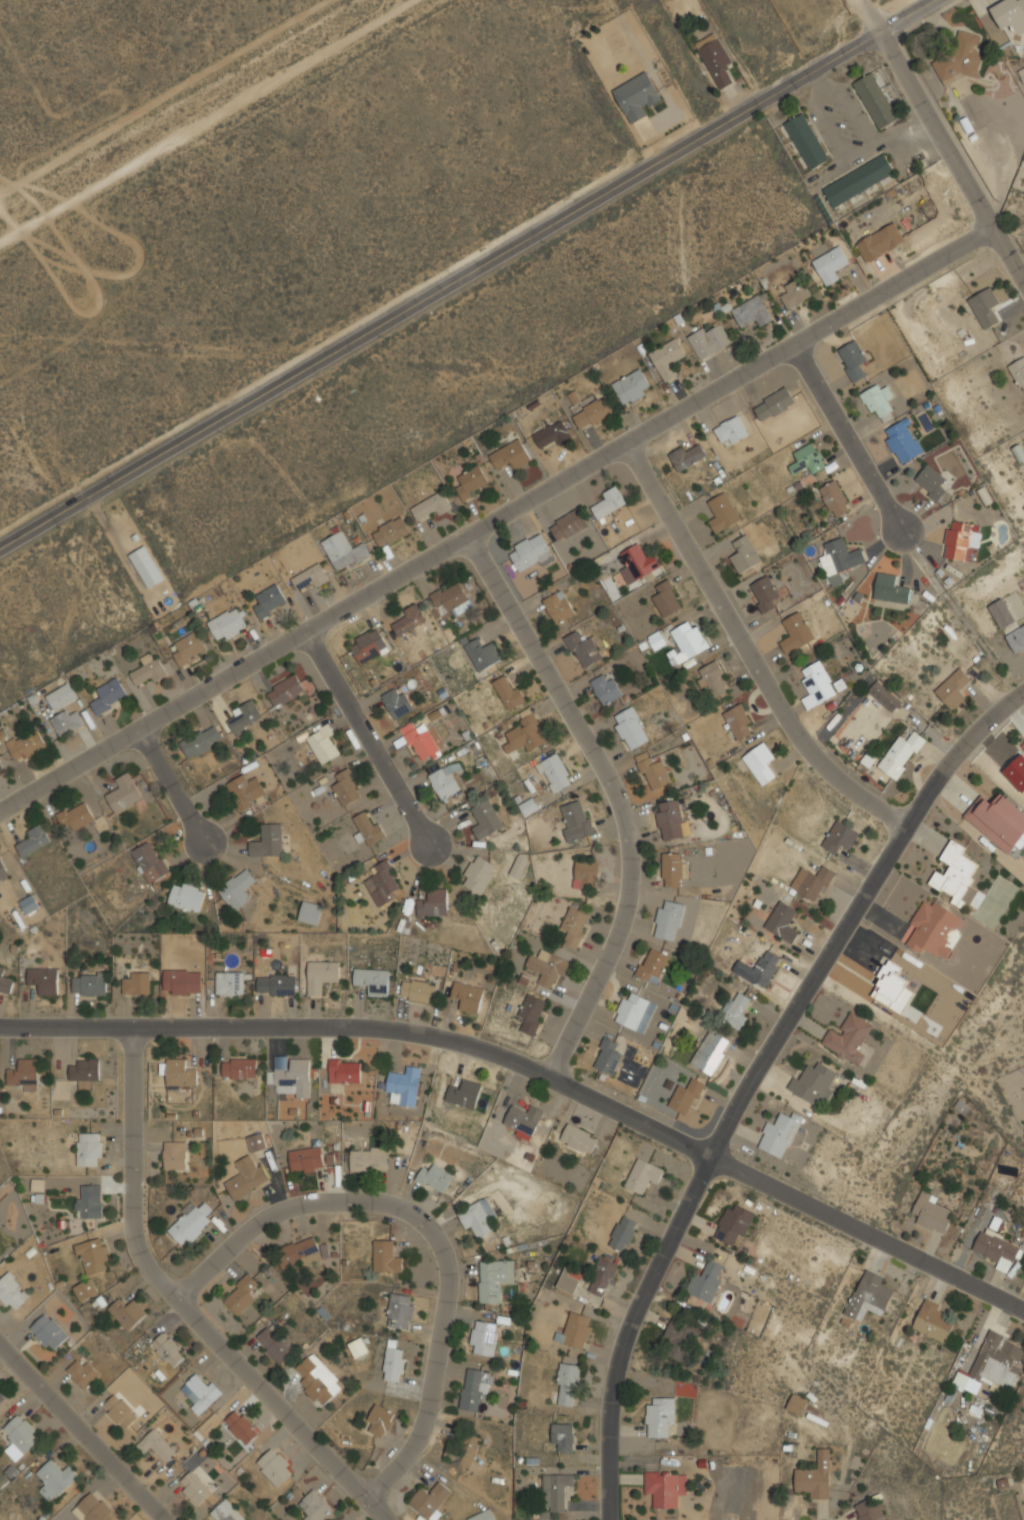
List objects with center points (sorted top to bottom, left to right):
building: (1010, 14)
building: (715, 59)
building: (960, 59)
building: (637, 95)
building: (876, 100)
road: (932, 115)
road: (203, 120)
building: (806, 141)
building: (859, 180)
building: (880, 241)
road: (1012, 252)
building: (830, 264)
road: (467, 274)
building: (795, 292)
building: (984, 307)
building: (753, 311)
building: (710, 339)
building: (668, 357)
building: (852, 360)
building: (1018, 371)
building: (632, 386)
building: (878, 399)
building: (773, 404)
building: (593, 413)
building: (730, 430)
building: (551, 435)
road: (852, 440)
building: (902, 441)
building: (1018, 452)
building: (511, 455)
building: (687, 455)
building: (807, 459)
building: (473, 481)
building: (930, 482)
building: (834, 499)
building: (608, 503)
building: (432, 507)
building: (722, 512)
road: (502, 522)
building: (567, 525)
building: (391, 531)
building: (961, 539)
building: (344, 551)
building: (530, 552)
building: (744, 554)
building: (839, 560)
building: (637, 563)
building: (146, 566)
building: (310, 578)
building: (890, 589)
building: (763, 593)
building: (666, 598)
building: (451, 599)
building: (270, 600)
building: (559, 606)
building: (1002, 613)
building: (408, 619)
building: (228, 623)
building: (795, 632)
building: (1016, 639)
building: (686, 641)
building: (369, 645)
building: (189, 648)
building: (583, 648)
building: (482, 653)
road: (750, 655)
building: (150, 668)
building: (712, 679)
building: (817, 682)
building: (606, 688)
building: (953, 688)
building: (285, 691)
building: (509, 691)
building: (109, 695)
building: (62, 696)
building: (884, 696)
building: (397, 702)
building: (245, 717)
building: (66, 721)
building: (738, 721)
building: (630, 728)
building: (526, 732)
building: (420, 740)
building: (201, 741)
road: (370, 741)
building: (27, 744)
building: (324, 744)
building: (901, 754)
building: (760, 762)
building: (1, 765)
building: (652, 771)
building: (554, 773)
building: (445, 780)
road: (170, 786)
building: (347, 787)
building: (245, 791)
building: (124, 792)
road: (618, 799)
building: (529, 805)
building: (76, 815)
building: (486, 819)
building: (669, 819)
building: (576, 820)
building: (998, 820)
building: (368, 827)
building: (840, 837)
building: (31, 840)
building: (267, 840)
building: (150, 862)
building: (519, 865)
building: (672, 869)
building: (2, 870)
building: (478, 874)
building: (585, 874)
building: (957, 877)
building: (381, 884)
building: (815, 884)
building: (237, 889)
building: (187, 896)
building: (434, 903)
building: (28, 904)
building: (310, 912)
building: (668, 920)
building: (782, 921)
building: (575, 925)
building: (933, 928)
building: (652, 965)
building: (548, 968)
building: (758, 969)
building: (322, 975)
building: (44, 980)
building: (373, 980)
building: (5, 981)
building: (136, 982)
building: (182, 982)
building: (229, 983)
building: (89, 985)
building: (277, 985)
building: (892, 988)
building: (418, 990)
building: (467, 996)
building: (736, 1009)
building: (635, 1011)
building: (532, 1013)
building: (848, 1038)
building: (710, 1052)
building: (608, 1056)
building: (239, 1068)
building: (84, 1070)
building: (345, 1071)
building: (179, 1072)
road: (535, 1072)
building: (22, 1075)
building: (292, 1078)
building: (813, 1083)
road: (760, 1084)
building: (405, 1085)
building: (465, 1094)
building: (686, 1096)
building: (524, 1119)
building: (779, 1134)
building: (579, 1138)
building: (256, 1142)
building: (89, 1149)
building: (174, 1155)
building: (368, 1159)
building: (306, 1160)
building: (642, 1175)
building: (247, 1179)
building: (435, 1179)
building: (88, 1203)
building: (931, 1213)
building: (478, 1219)
building: (190, 1224)
building: (734, 1224)
road: (429, 1230)
building: (622, 1233)
building: (996, 1250)
building: (298, 1253)
building: (93, 1257)
building: (386, 1257)
building: (603, 1277)
building: (494, 1280)
building: (570, 1280)
building: (706, 1281)
building: (82, 1291)
building: (12, 1292)
building: (241, 1295)
building: (868, 1295)
road: (183, 1304)
building: (401, 1311)
building: (127, 1313)
building: (932, 1321)
building: (576, 1330)
building: (48, 1332)
building: (483, 1338)
building: (677, 1340)
building: (275, 1344)
building: (168, 1349)
building: (394, 1363)
building: (996, 1364)
building: (82, 1372)
building: (318, 1380)
building: (565, 1385)
building: (475, 1389)
building: (201, 1392)
building: (2, 1394)
building: (797, 1403)
building: (120, 1410)
building: (660, 1417)
building: (380, 1421)
building: (241, 1426)
road: (82, 1432)
building: (21, 1433)
building: (562, 1436)
building: (156, 1444)
building: (464, 1449)
building: (275, 1467)
building: (56, 1476)
building: (815, 1478)
building: (664, 1487)
building: (195, 1489)
building: (554, 1490)
building: (432, 1499)
building: (314, 1506)
building: (94, 1508)
building: (869, 1510)
building: (226, 1512)
building: (483, 1516)

